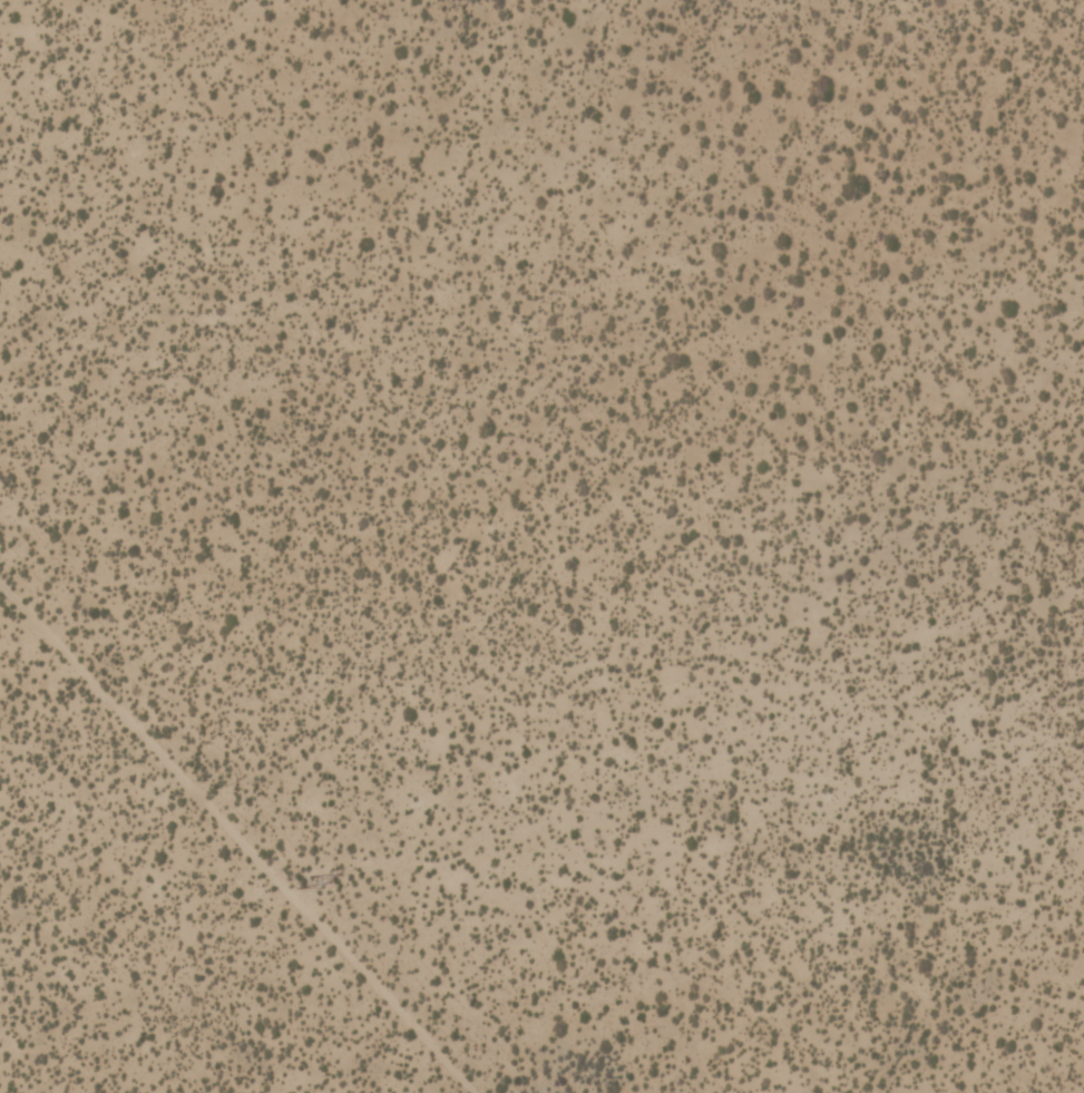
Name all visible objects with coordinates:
road: (233, 842)
power tower: (299, 879)

